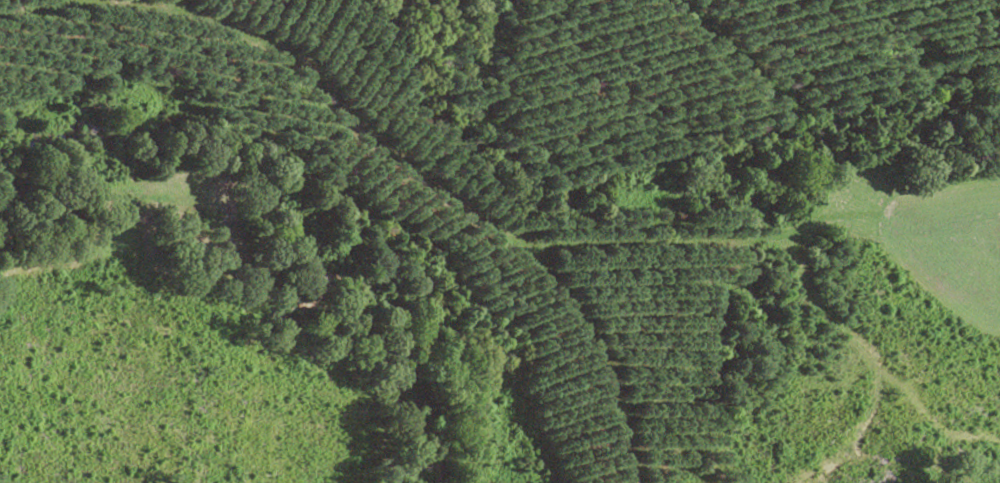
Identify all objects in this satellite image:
road: (572, 215)

